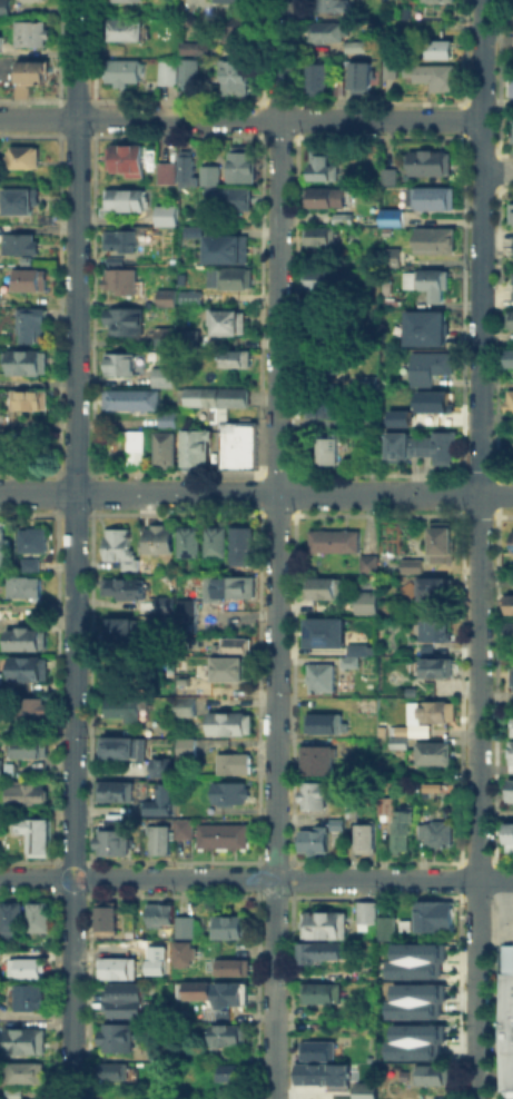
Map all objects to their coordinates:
building: (23, 0)
building: (126, 0)
building: (225, 0)
building: (434, 0)
building: (328, 6)
building: (3, 7)
building: (125, 28)
building: (320, 28)
building: (26, 31)
building: (236, 32)
building: (349, 42)
building: (194, 47)
building: (436, 47)
road: (481, 60)
building: (26, 71)
building: (122, 71)
building: (165, 71)
building: (185, 71)
building: (313, 75)
building: (234, 76)
building: (357, 76)
building: (432, 76)
building: (510, 85)
road: (240, 117)
building: (511, 130)
road: (481, 146)
building: (23, 156)
building: (126, 157)
building: (426, 161)
building: (239, 164)
building: (319, 164)
building: (182, 167)
building: (165, 171)
road: (496, 171)
building: (207, 175)
building: (386, 175)
building: (326, 196)
building: (431, 196)
building: (230, 197)
building: (18, 200)
building: (121, 202)
building: (165, 214)
building: (510, 214)
building: (393, 216)
building: (339, 218)
building: (191, 230)
building: (316, 235)
building: (120, 238)
building: (432, 239)
building: (18, 242)
building: (225, 248)
building: (119, 258)
building: (228, 277)
building: (319, 277)
building: (27, 279)
building: (120, 279)
building: (424, 281)
building: (512, 286)
building: (185, 294)
building: (165, 297)
building: (509, 317)
building: (225, 320)
building: (121, 321)
building: (30, 323)
building: (335, 326)
building: (418, 327)
building: (161, 334)
building: (187, 338)
building: (509, 356)
building: (234, 357)
building: (322, 360)
building: (27, 362)
building: (120, 363)
building: (427, 365)
building: (161, 375)
building: (210, 395)
building: (28, 398)
building: (130, 398)
building: (433, 399)
building: (507, 400)
building: (317, 404)
building: (397, 416)
building: (165, 418)
building: (2, 443)
building: (237, 444)
building: (421, 445)
building: (193, 446)
building: (326, 446)
building: (131, 447)
building: (162, 447)
road: (256, 493)
building: (30, 538)
building: (157, 538)
building: (511, 539)
building: (186, 541)
building: (213, 541)
building: (332, 541)
building: (115, 542)
building: (241, 544)
building: (441, 545)
building: (2, 547)
road: (275, 548)
road: (73, 549)
building: (27, 562)
building: (367, 563)
building: (410, 565)
building: (512, 582)
building: (225, 585)
building: (22, 586)
building: (121, 586)
building: (322, 587)
building: (436, 588)
building: (365, 603)
building: (507, 603)
building: (164, 604)
building: (119, 630)
building: (509, 630)
building: (323, 631)
building: (428, 631)
road: (477, 634)
building: (22, 638)
building: (230, 644)
building: (355, 648)
building: (347, 662)
building: (437, 665)
building: (27, 667)
building: (227, 667)
building: (510, 674)
building: (318, 677)
building: (181, 680)
building: (182, 705)
building: (29, 706)
building: (122, 707)
building: (435, 710)
building: (324, 722)
building: (228, 723)
building: (509, 725)
building: (398, 729)
building: (417, 730)
building: (397, 743)
building: (26, 746)
building: (117, 746)
building: (184, 746)
building: (509, 750)
building: (431, 752)
building: (315, 759)
building: (233, 763)
building: (160, 768)
building: (506, 789)
building: (114, 791)
building: (229, 792)
building: (24, 793)
building: (312, 794)
building: (158, 800)
building: (351, 805)
building: (384, 808)
building: (181, 810)
building: (336, 824)
building: (180, 828)
building: (399, 831)
building: (509, 832)
building: (433, 833)
building: (34, 834)
building: (221, 835)
building: (363, 839)
building: (157, 840)
building: (312, 840)
building: (111, 843)
road: (256, 877)
building: (364, 911)
building: (157, 914)
building: (431, 914)
building: (36, 915)
building: (103, 918)
building: (9, 919)
building: (323, 923)
building: (402, 924)
building: (187, 925)
building: (226, 925)
building: (383, 928)
building: (317, 951)
building: (182, 952)
building: (414, 960)
building: (23, 967)
building: (115, 967)
building: (230, 967)
building: (194, 989)
building: (319, 991)
building: (228, 992)
building: (26, 997)
building: (122, 1000)
building: (414, 1000)
building: (505, 1017)
building: (227, 1036)
building: (114, 1038)
building: (24, 1041)
building: (413, 1041)
building: (315, 1048)
building: (158, 1051)
building: (109, 1070)
building: (27, 1072)
building: (228, 1072)
building: (314, 1073)
building: (430, 1073)
building: (362, 1090)
building: (11, 1092)
building: (506, 1092)
building: (162, 1093)

